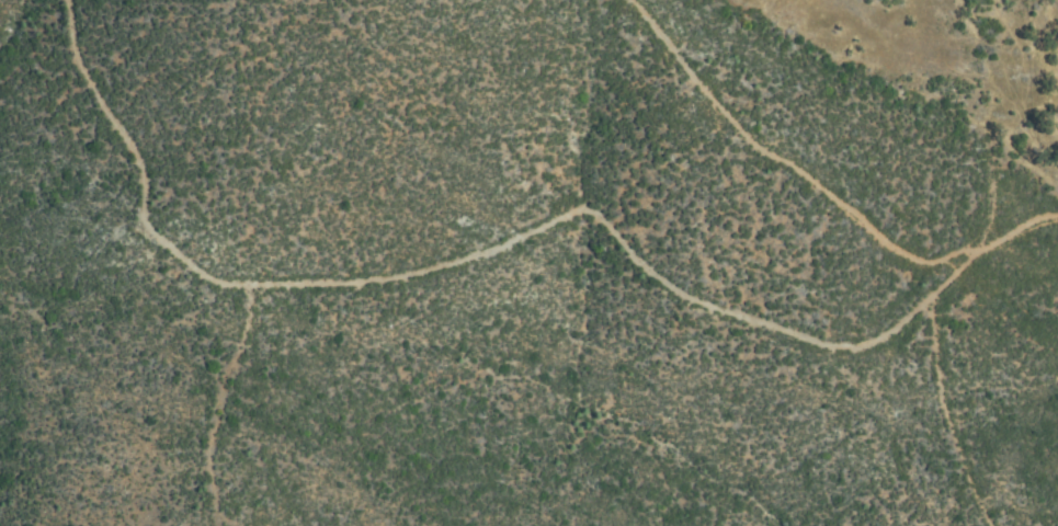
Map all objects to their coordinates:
road: (504, 245)

